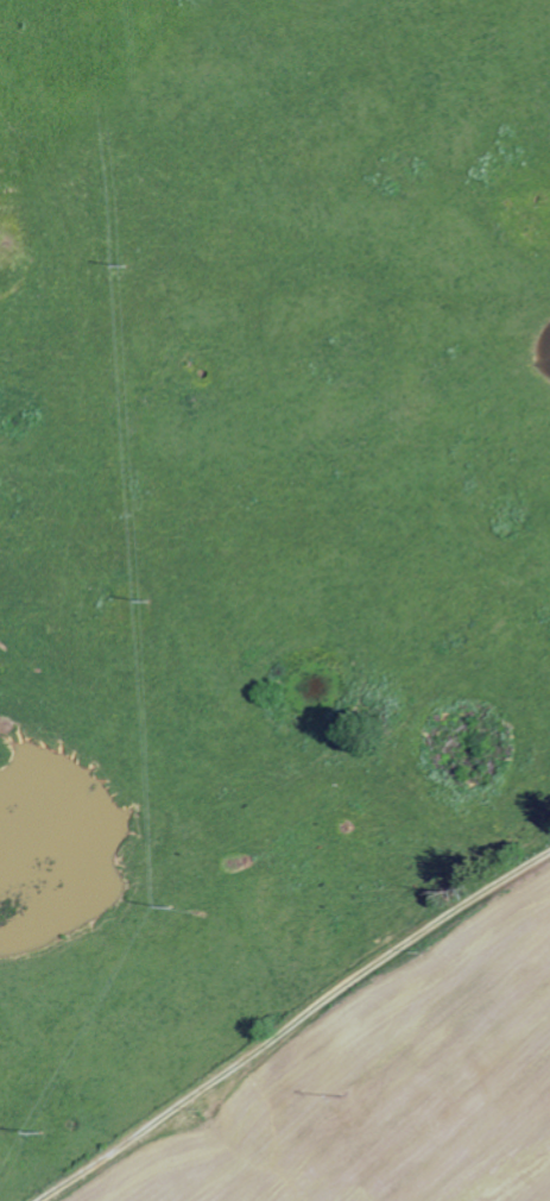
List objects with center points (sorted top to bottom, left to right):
road: (293, 1024)

